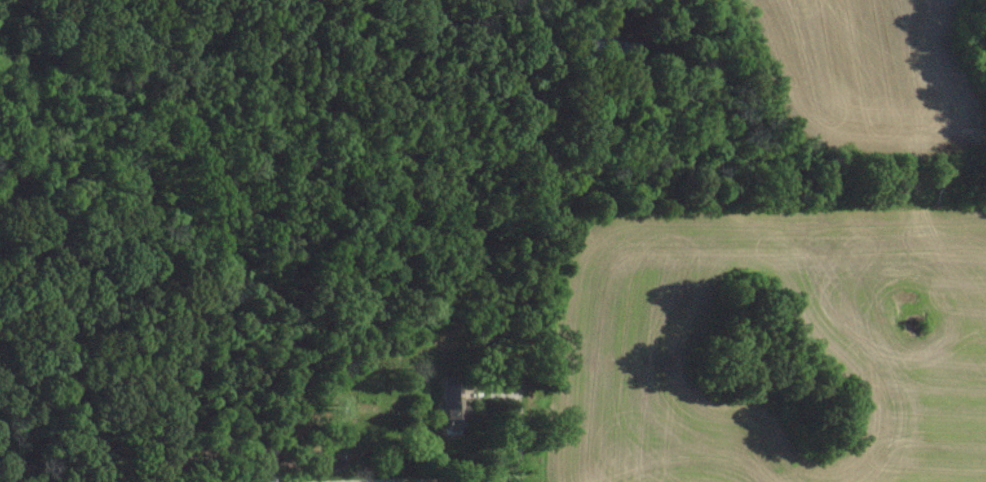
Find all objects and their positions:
building: (452, 403)
road: (518, 451)

